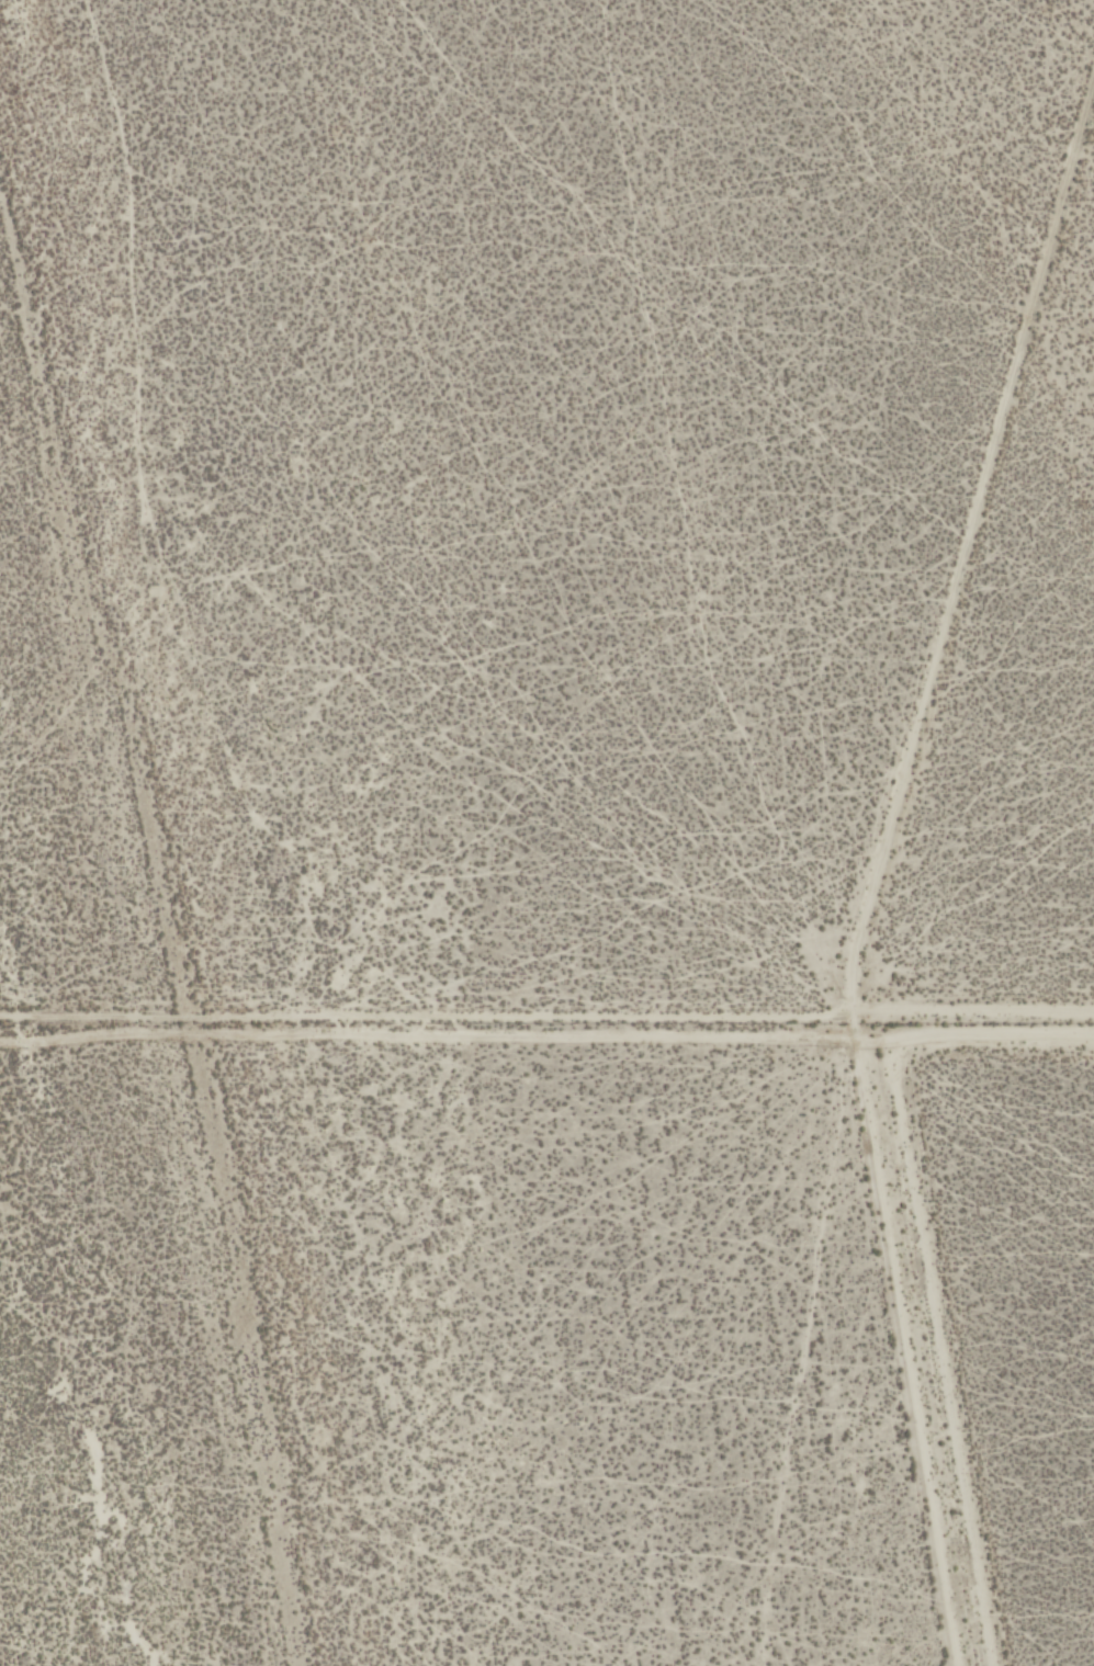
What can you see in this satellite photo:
road: (880, 870)
road: (978, 1019)
airport: (1006, 1306)

